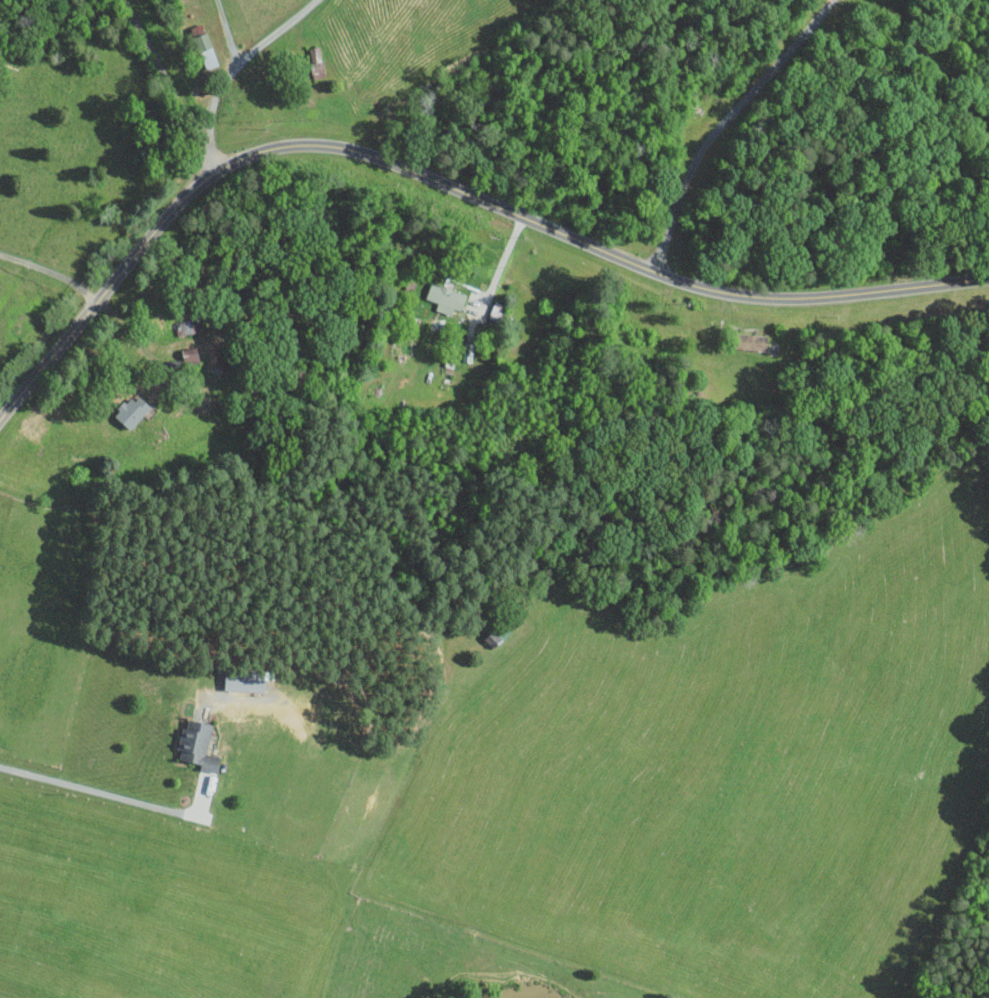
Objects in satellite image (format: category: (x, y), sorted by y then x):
road: (231, 28)
building: (206, 50)
road: (242, 56)
road: (177, 81)
road: (726, 122)
road: (441, 180)
road: (503, 263)
road: (50, 270)
building: (445, 298)
road: (132, 336)
building: (751, 341)
building: (132, 411)
building: (243, 679)
building: (197, 744)
road: (100, 791)

